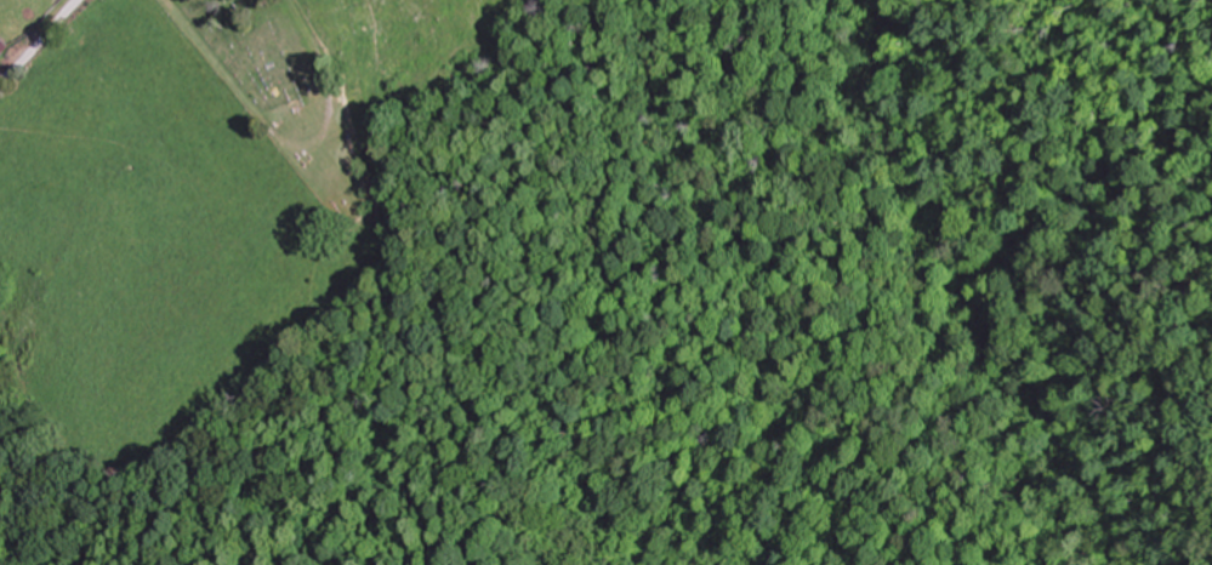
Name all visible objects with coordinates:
building: (6, 44)
road: (42, 44)
park: (285, 91)
road: (1176, 395)

